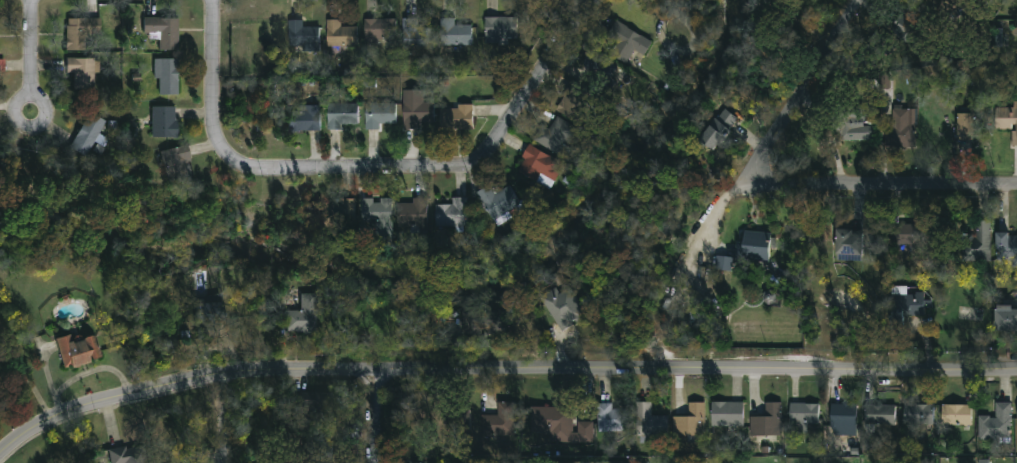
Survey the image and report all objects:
building: (906, 23)
building: (380, 31)
building: (502, 31)
building: (162, 32)
building: (80, 33)
building: (454, 34)
building: (339, 35)
building: (416, 36)
building: (302, 37)
building: (627, 42)
road: (34, 48)
building: (872, 51)
building: (1, 65)
building: (80, 72)
building: (601, 73)
building: (165, 77)
building: (885, 80)
road: (791, 99)
building: (573, 103)
building: (416, 110)
building: (381, 114)
building: (343, 117)
building: (306, 118)
building: (457, 119)
building: (163, 122)
building: (1007, 124)
building: (970, 126)
building: (903, 130)
building: (716, 131)
building: (863, 132)
building: (86, 135)
building: (555, 137)
building: (175, 163)
building: (539, 168)
road: (369, 173)
road: (874, 194)
building: (497, 202)
building: (411, 214)
building: (450, 214)
building: (338, 220)
building: (376, 220)
building: (919, 238)
building: (848, 244)
building: (976, 244)
building: (753, 247)
building: (1006, 249)
building: (723, 263)
building: (906, 304)
building: (562, 307)
building: (302, 317)
building: (209, 319)
building: (1004, 319)
building: (485, 322)
building: (78, 350)
road: (499, 362)
road: (27, 379)
building: (311, 404)
road: (378, 415)
building: (726, 415)
building: (841, 416)
building: (878, 416)
building: (917, 416)
building: (956, 416)
building: (802, 417)
road: (229, 418)
building: (549, 421)
building: (612, 421)
building: (767, 421)
building: (455, 422)
building: (498, 422)
building: (648, 423)
building: (690, 423)
building: (995, 424)
building: (584, 429)
building: (319, 450)
building: (128, 455)

